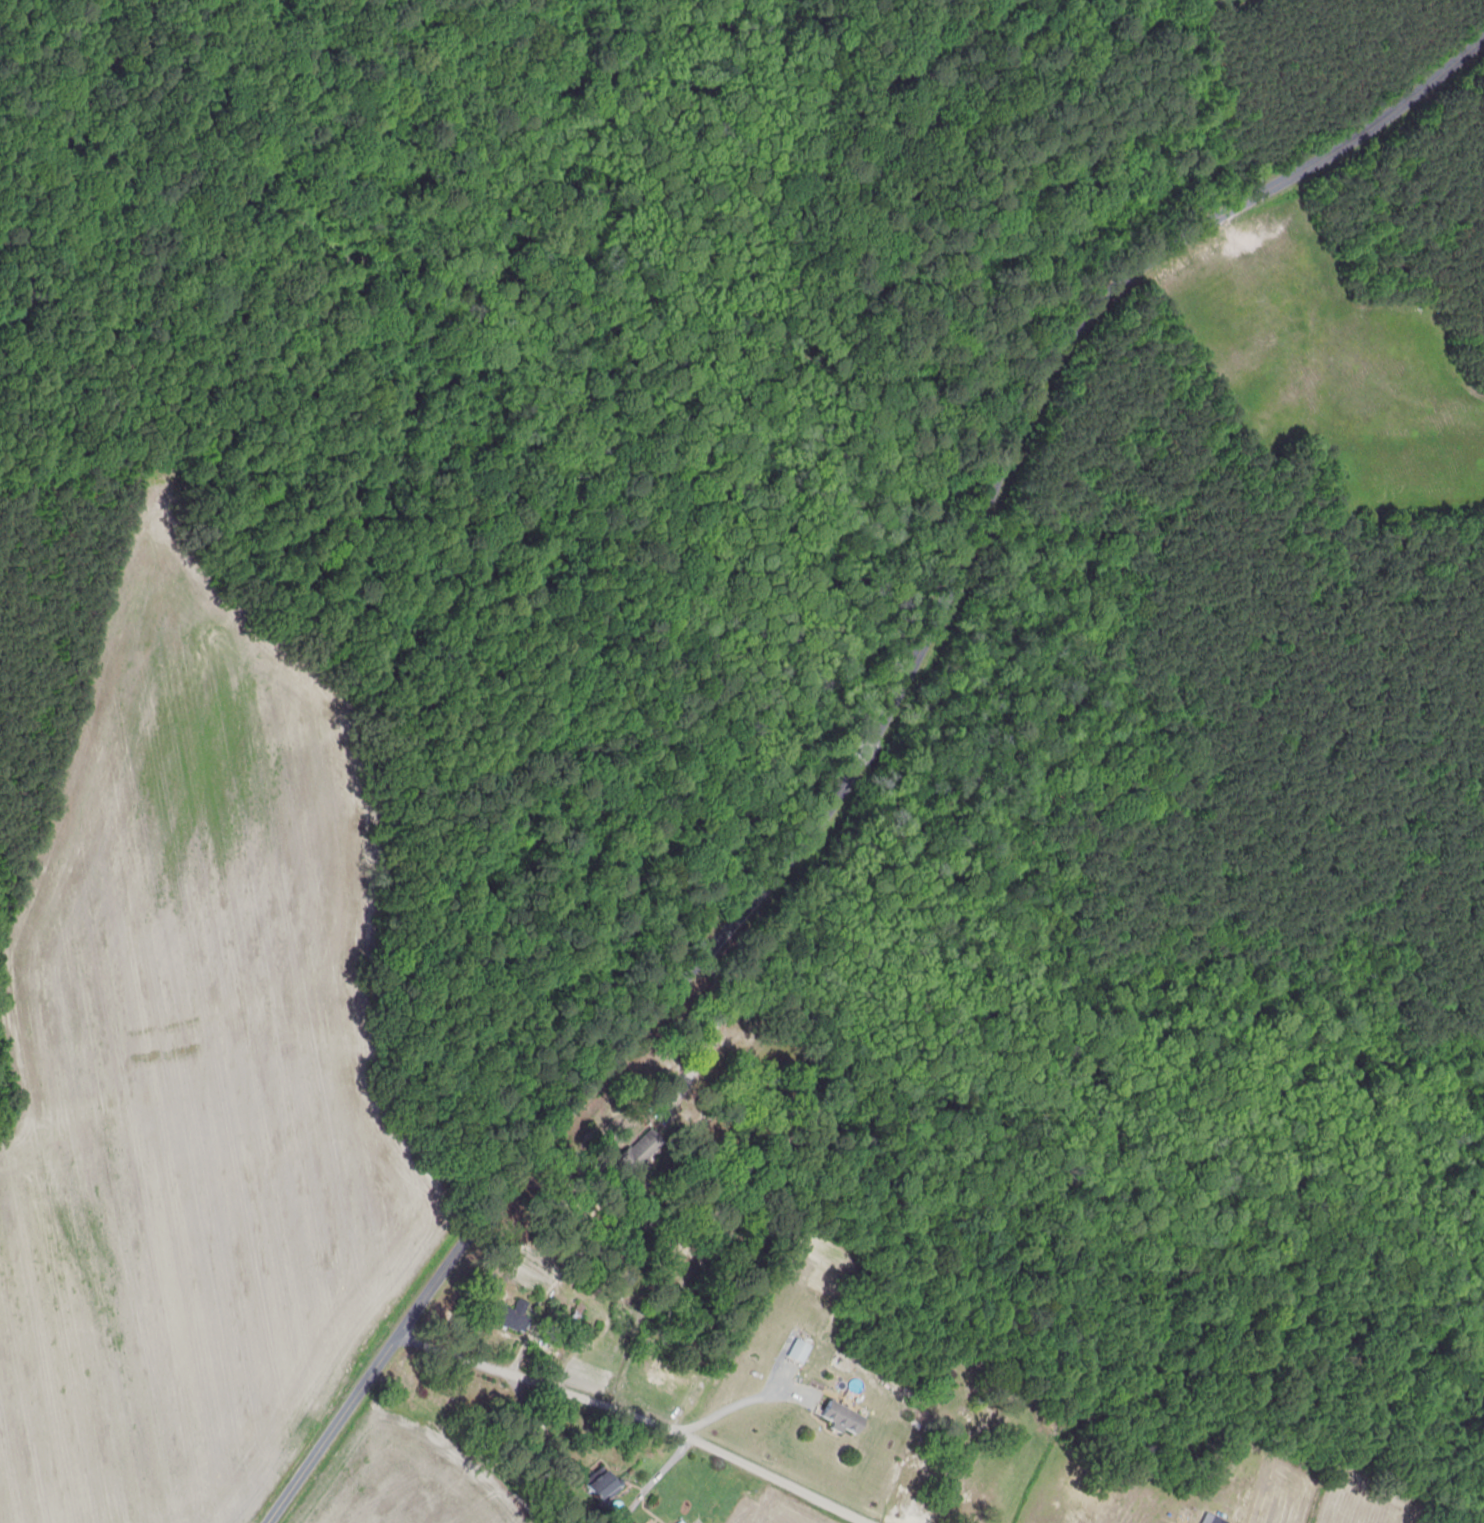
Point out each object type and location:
park: (601, 321)
road: (866, 753)
building: (642, 1148)
building: (517, 1315)
building: (800, 1351)
road: (636, 1418)
building: (844, 1418)
building: (602, 1482)

